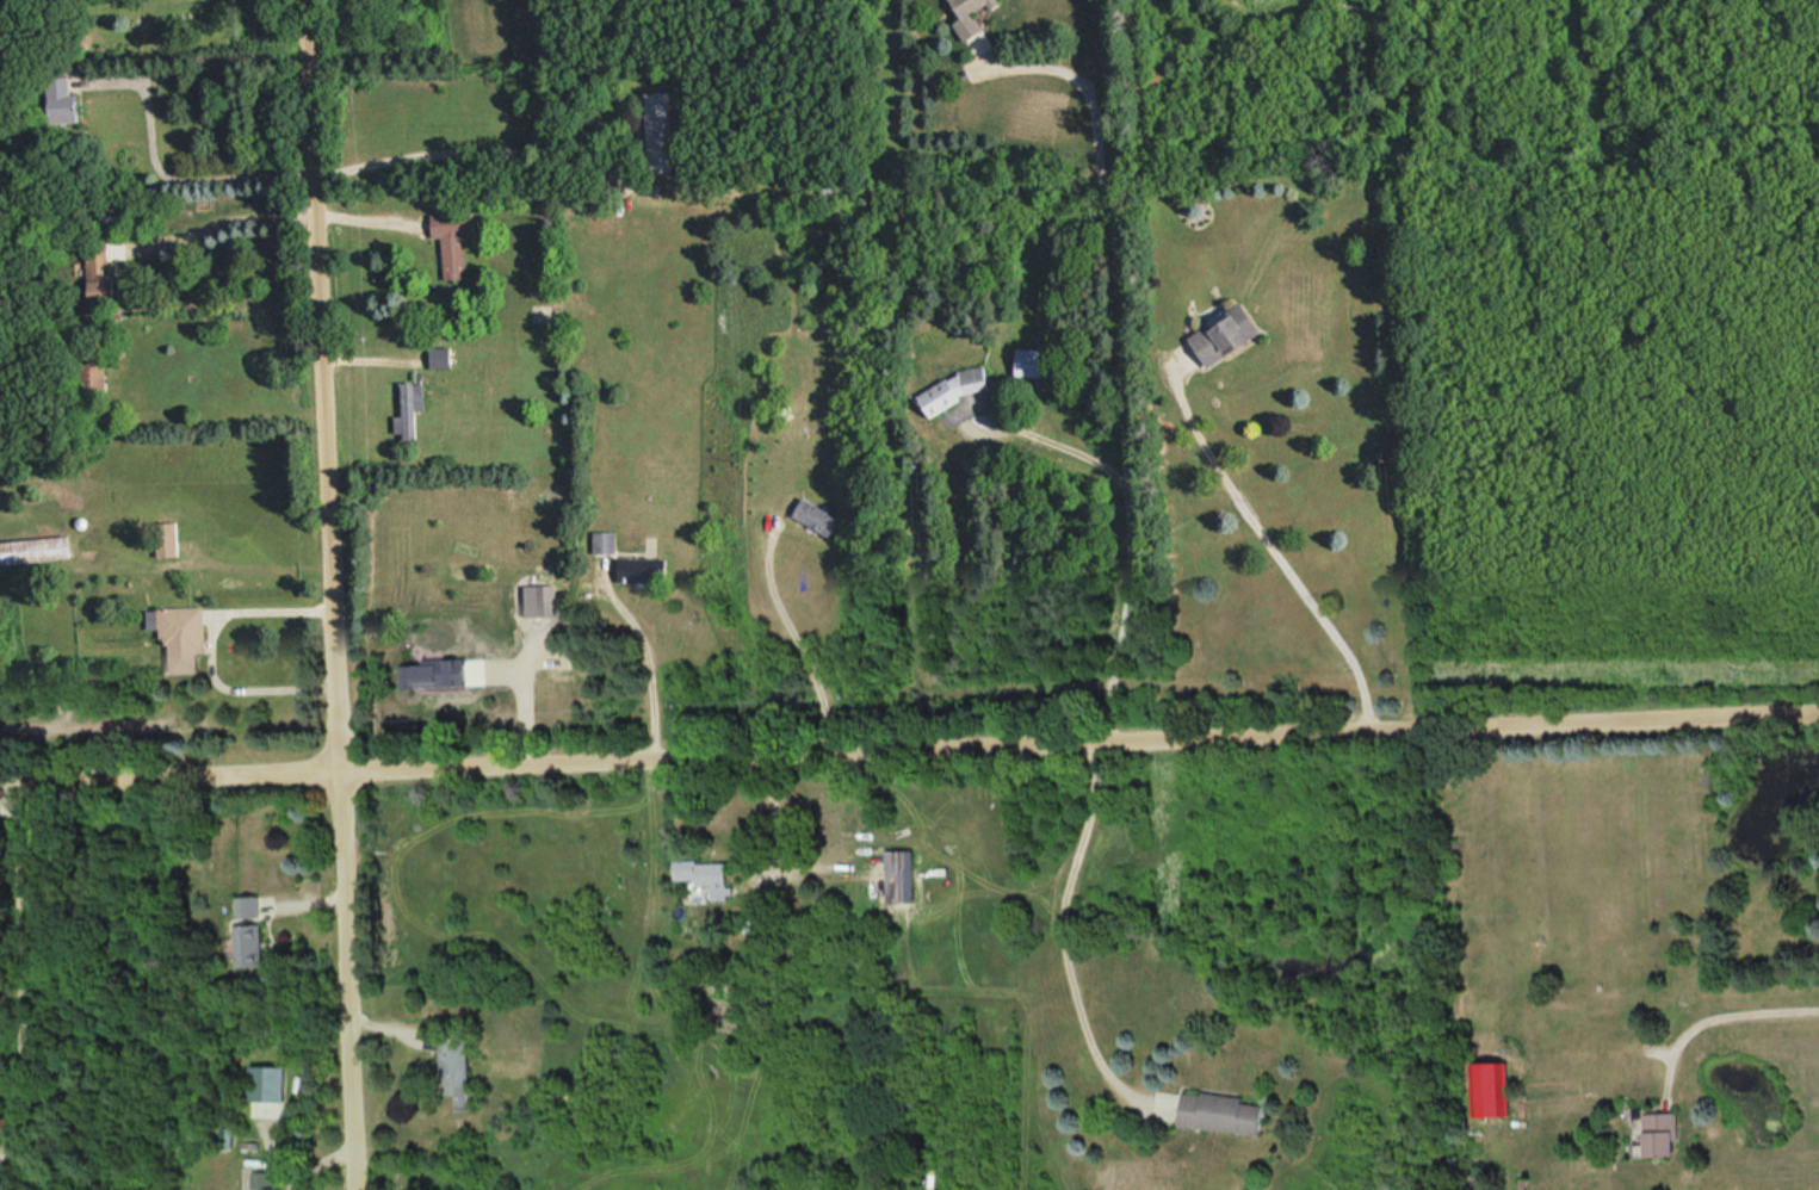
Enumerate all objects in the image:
building: (969, 17)
building: (63, 100)
building: (660, 130)
road: (472, 150)
road: (165, 172)
road: (236, 219)
building: (454, 241)
building: (103, 271)
building: (1226, 333)
building: (440, 357)
building: (1029, 361)
road: (1122, 361)
building: (94, 372)
building: (957, 388)
building: (409, 408)
road: (1064, 446)
building: (817, 514)
building: (168, 538)
building: (605, 540)
road: (1270, 543)
building: (36, 548)
building: (642, 569)
road: (338, 594)
building: (546, 599)
road: (798, 639)
road: (209, 643)
building: (419, 674)
road: (909, 744)
road: (774, 816)
building: (707, 873)
building: (902, 874)
road: (1063, 924)
building: (250, 929)
road: (23, 967)
road: (1733, 1011)
building: (458, 1064)
building: (268, 1080)
building: (1492, 1087)
building: (1224, 1111)
building: (1657, 1133)
building: (265, 1179)

